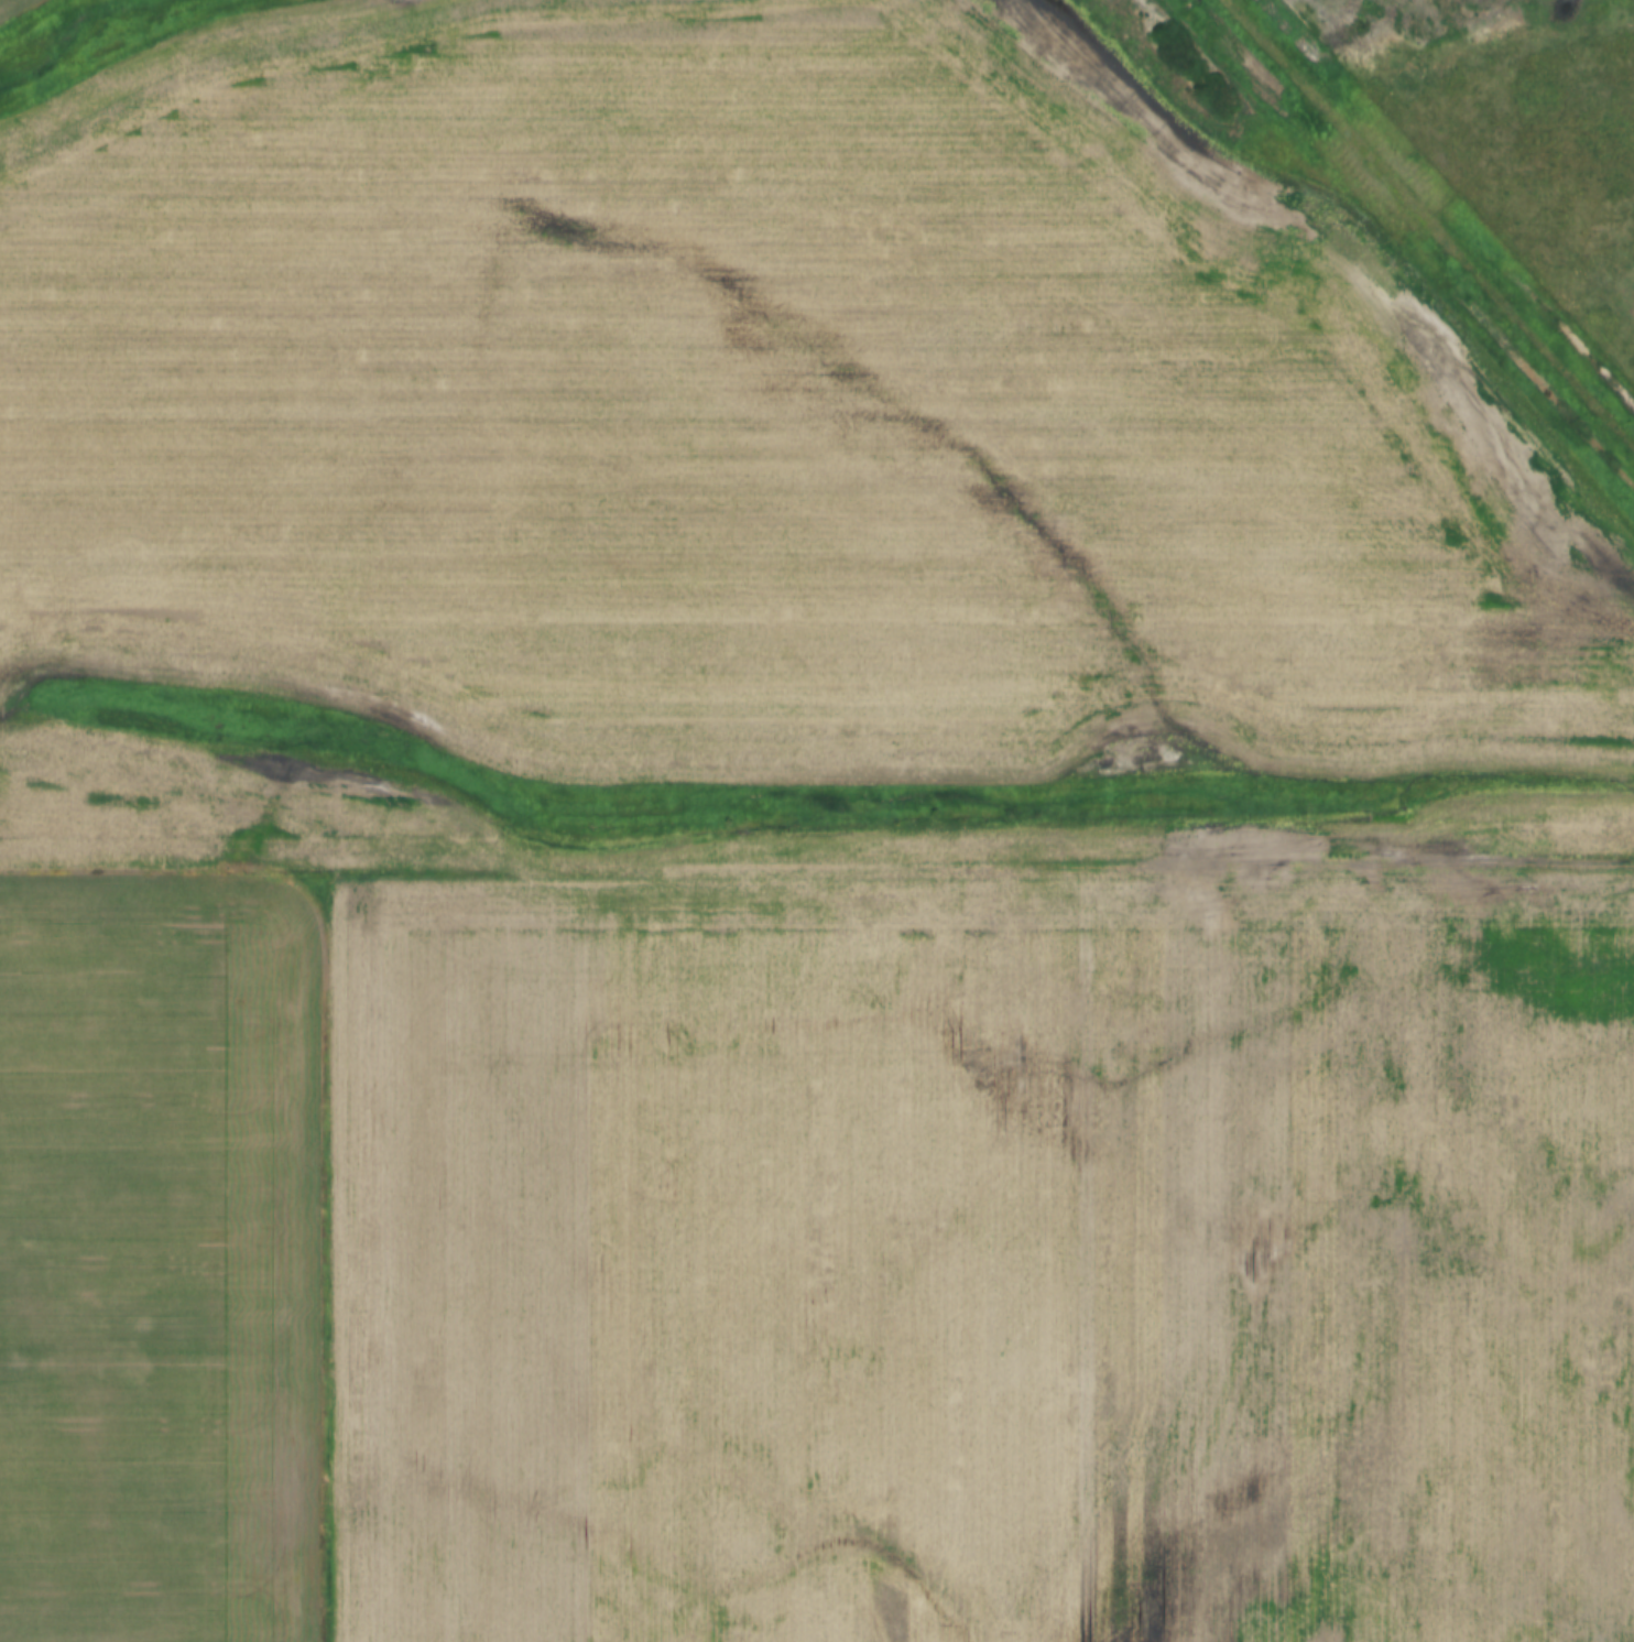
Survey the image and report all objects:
road: (817, 868)

